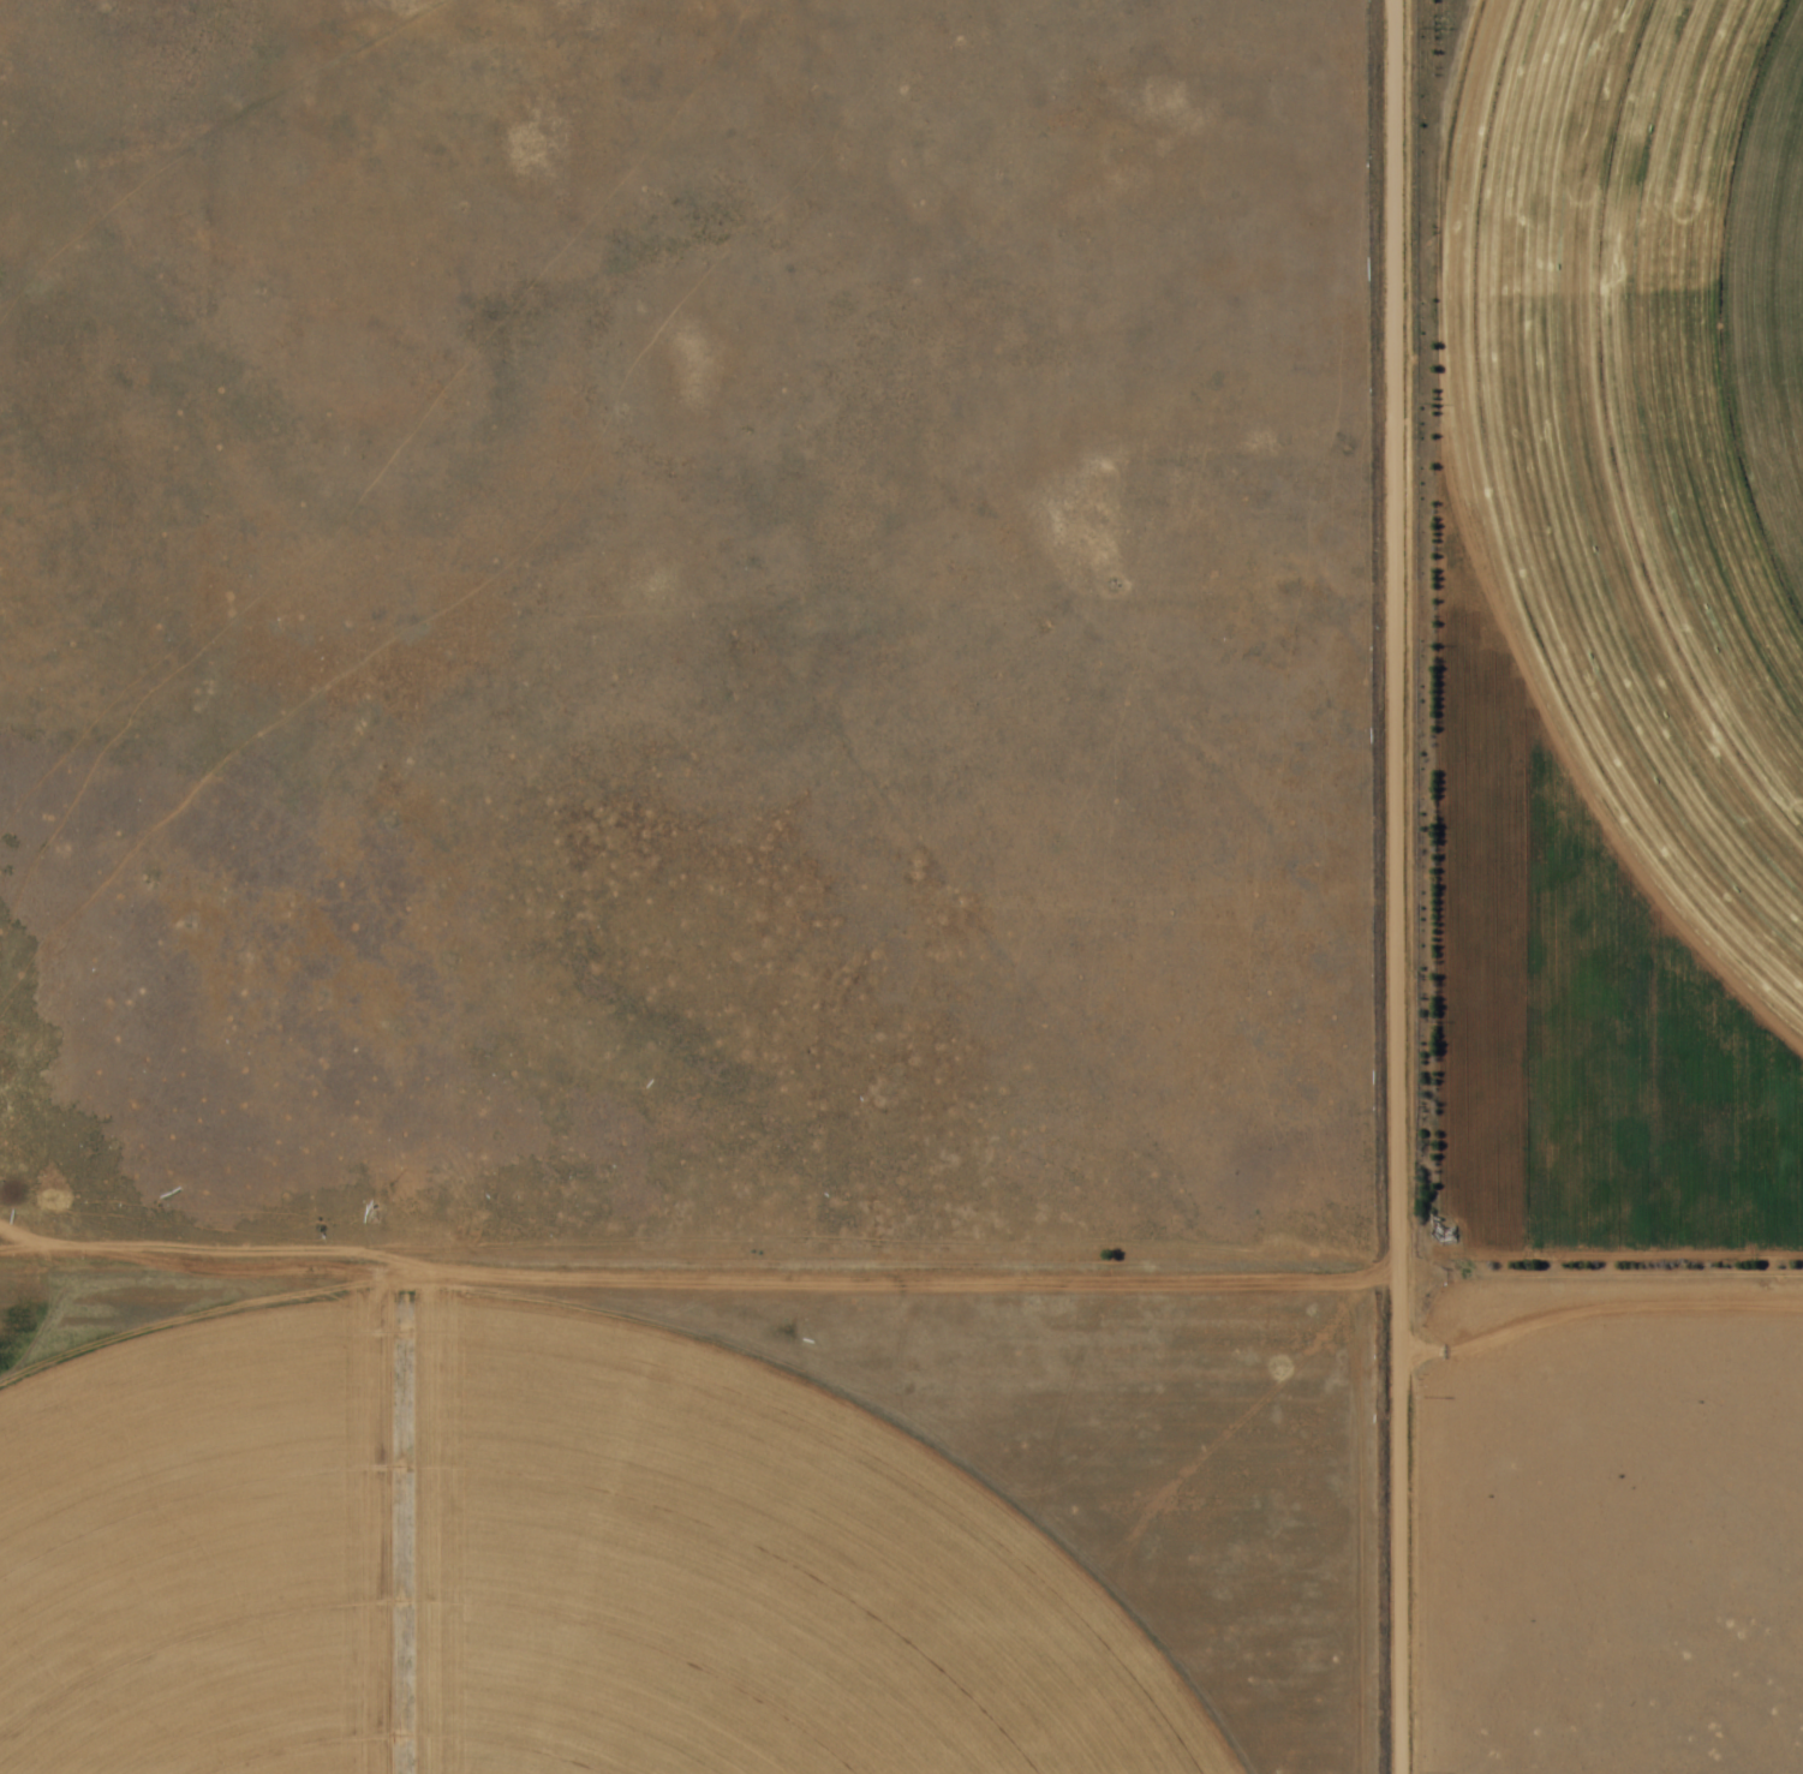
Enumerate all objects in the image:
road: (1408, 886)

